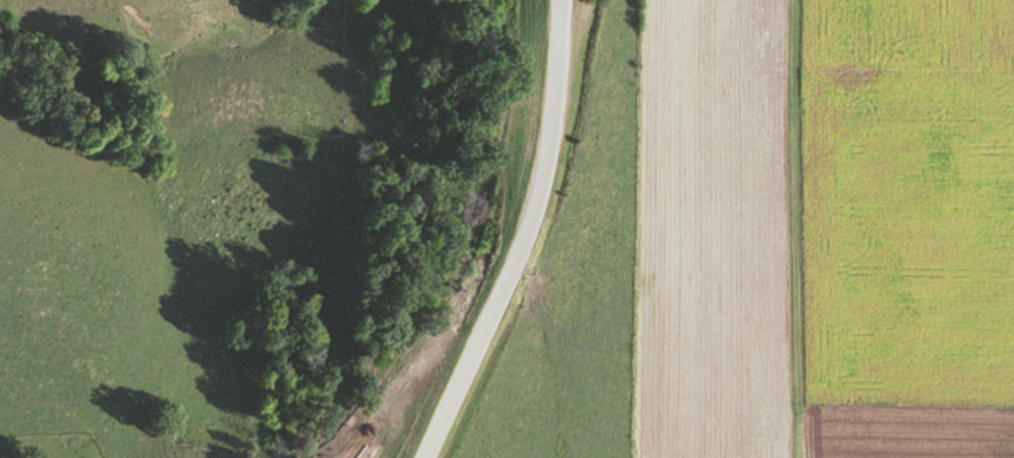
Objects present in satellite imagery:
road: (517, 236)

